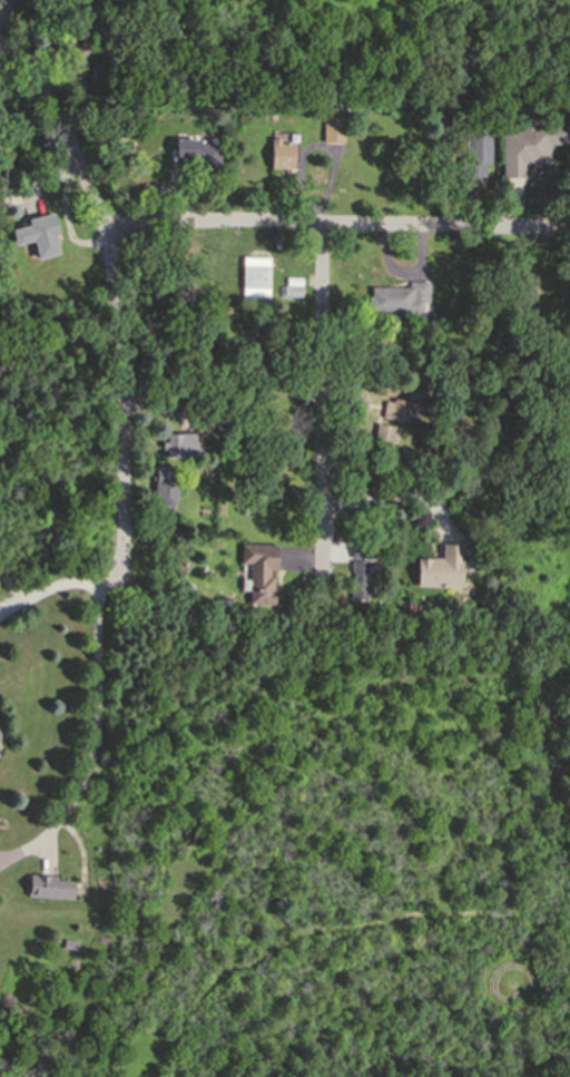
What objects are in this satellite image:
building: (3, 1)
building: (77, 51)
building: (331, 128)
building: (527, 145)
building: (474, 150)
building: (277, 153)
building: (197, 156)
road: (344, 229)
road: (569, 229)
building: (40, 233)
building: (254, 274)
building: (288, 288)
building: (524, 288)
road: (119, 295)
building: (396, 296)
building: (514, 311)
building: (252, 358)
road: (324, 402)
building: (396, 408)
building: (441, 430)
building: (383, 433)
building: (179, 443)
building: (164, 482)
road: (376, 500)
building: (361, 545)
building: (441, 564)
building: (258, 570)
building: (360, 575)
road: (56, 586)
building: (315, 598)
building: (411, 604)
building: (419, 604)
building: (222, 609)
road: (89, 742)
road: (0, 863)
road: (0, 864)
building: (47, 884)
building: (68, 942)

